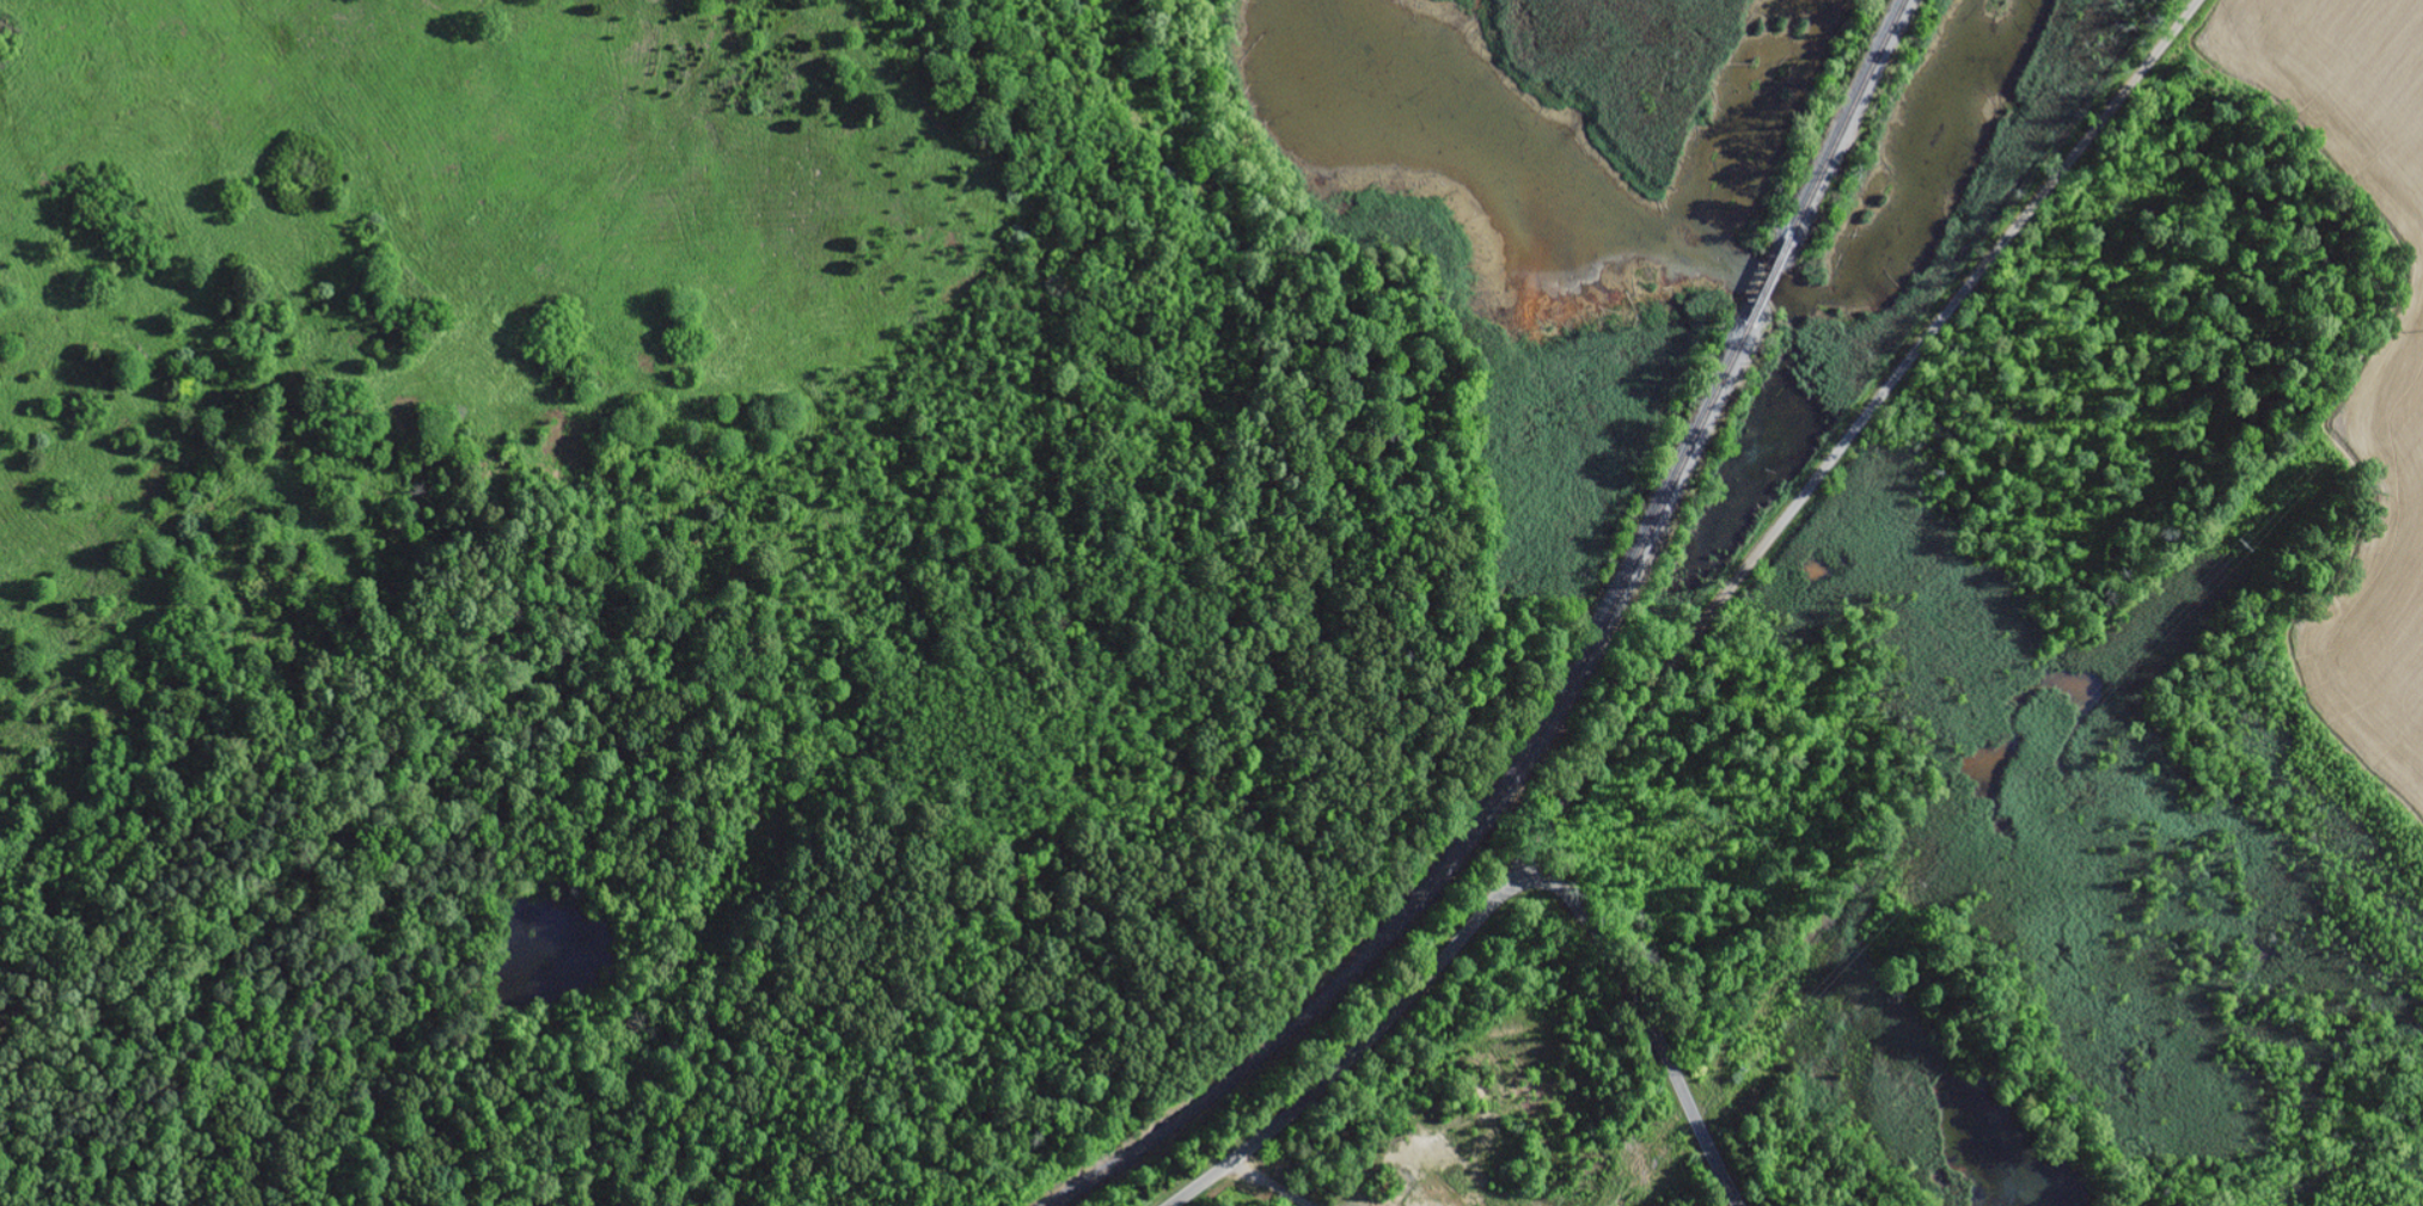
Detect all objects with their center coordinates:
railway: (1843, 127)
railway: (1767, 286)
road: (1846, 442)
railway: (1462, 829)
road: (1644, 1014)
road: (1344, 1059)

